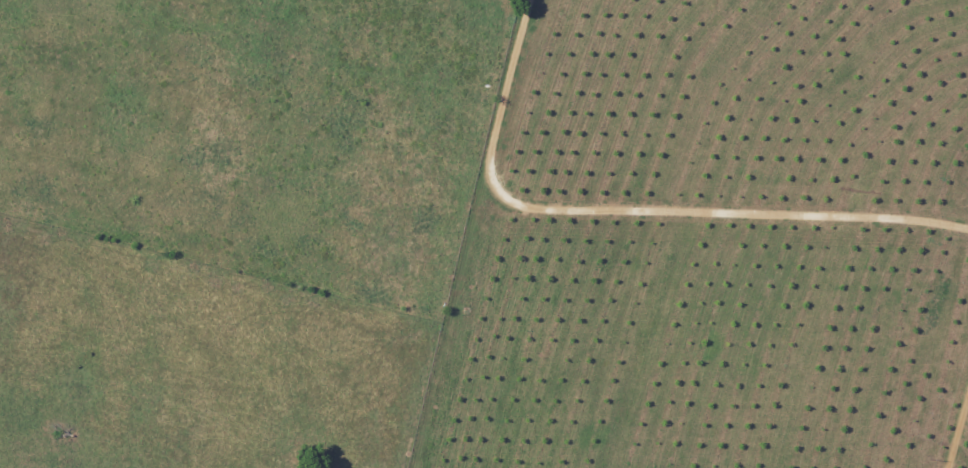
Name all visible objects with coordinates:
road: (630, 213)
road: (957, 430)

